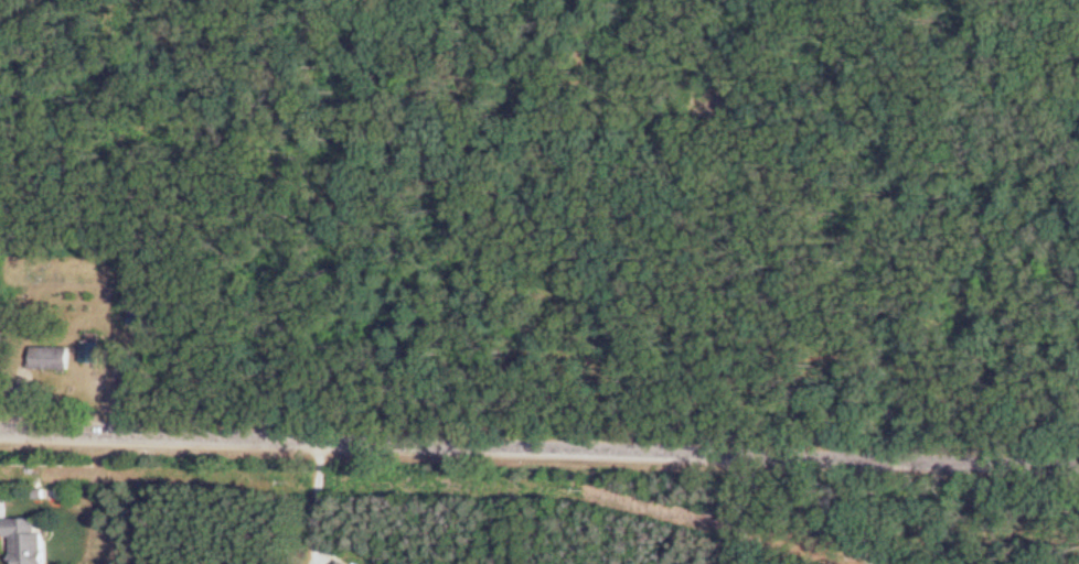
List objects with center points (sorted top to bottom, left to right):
building: (92, 352)
building: (52, 359)
road: (538, 452)
road: (320, 503)
road: (746, 511)
road: (838, 512)
building: (28, 540)
building: (343, 563)

